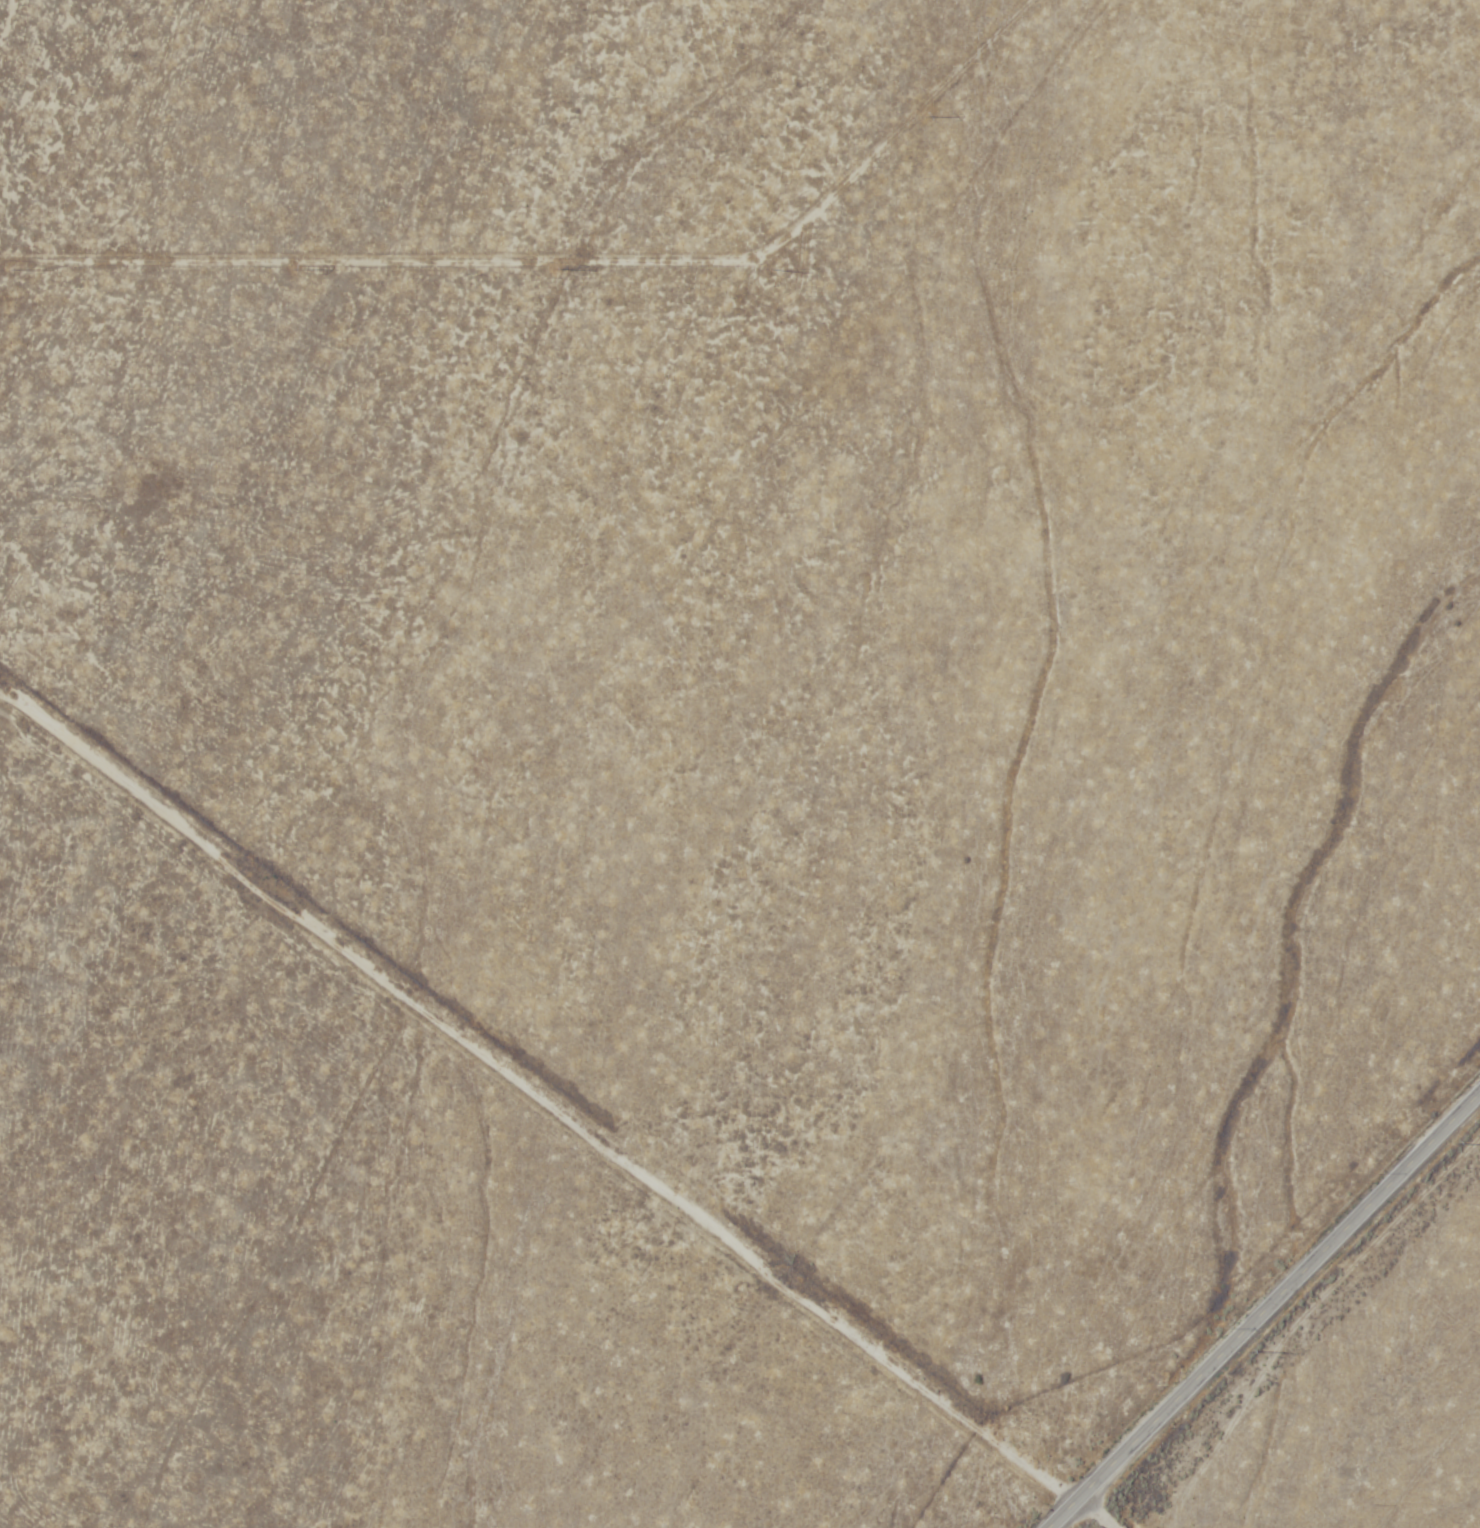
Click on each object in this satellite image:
road: (1265, 1310)

